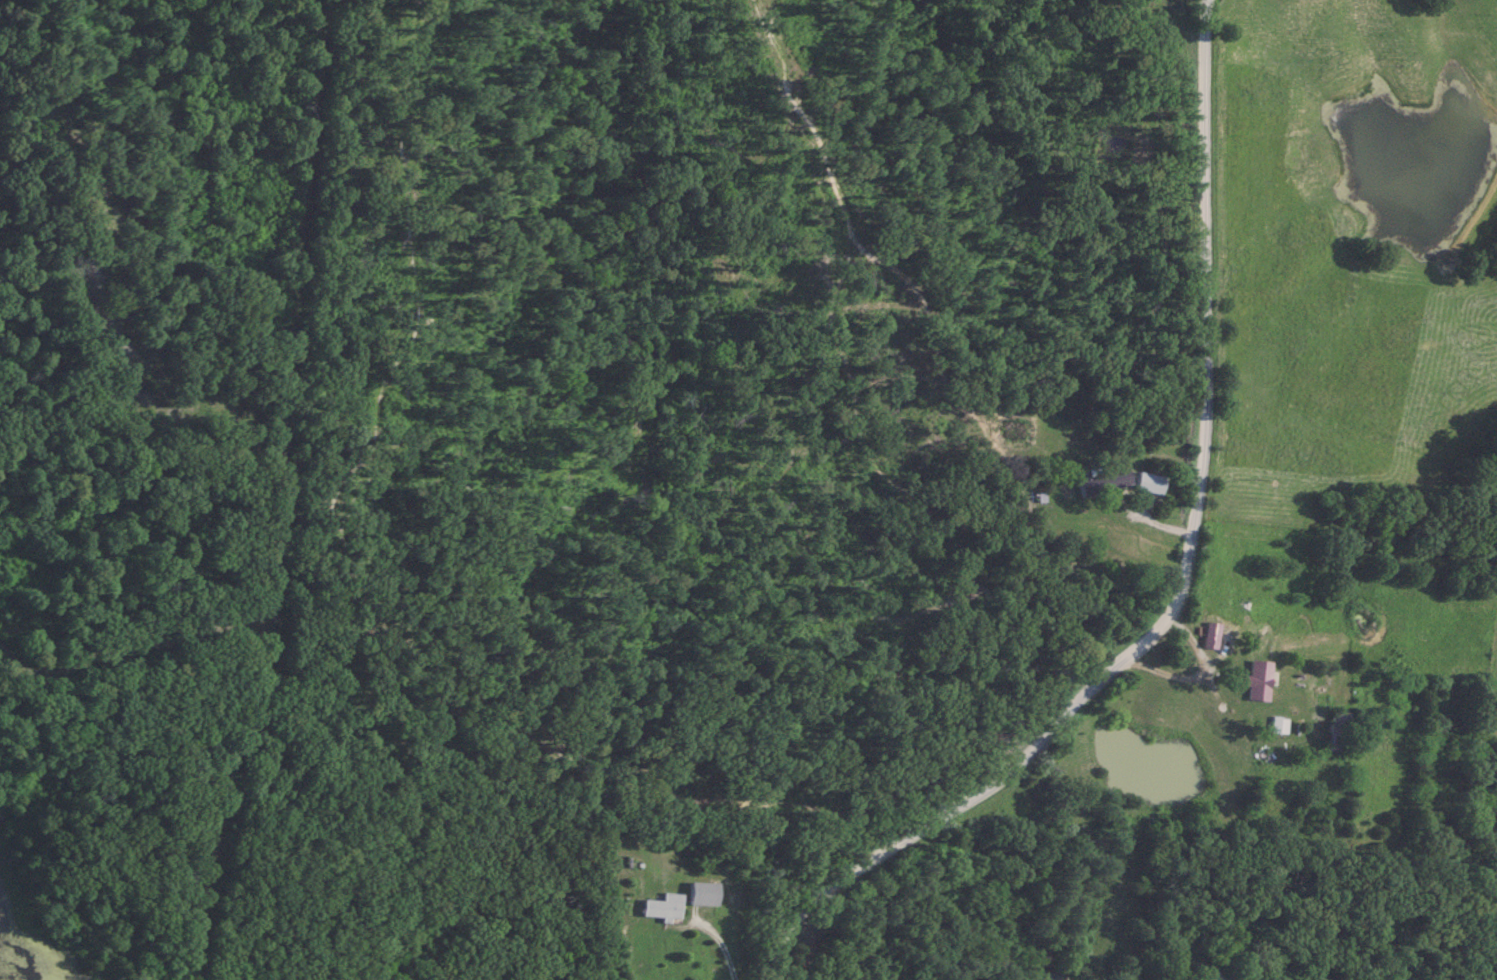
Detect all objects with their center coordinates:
building: (1102, 480)
road: (1185, 580)
building: (1208, 635)
building: (1257, 680)
building: (1276, 724)
building: (1336, 731)
building: (703, 894)
building: (663, 907)
road: (721, 940)
building: (1211, 974)

